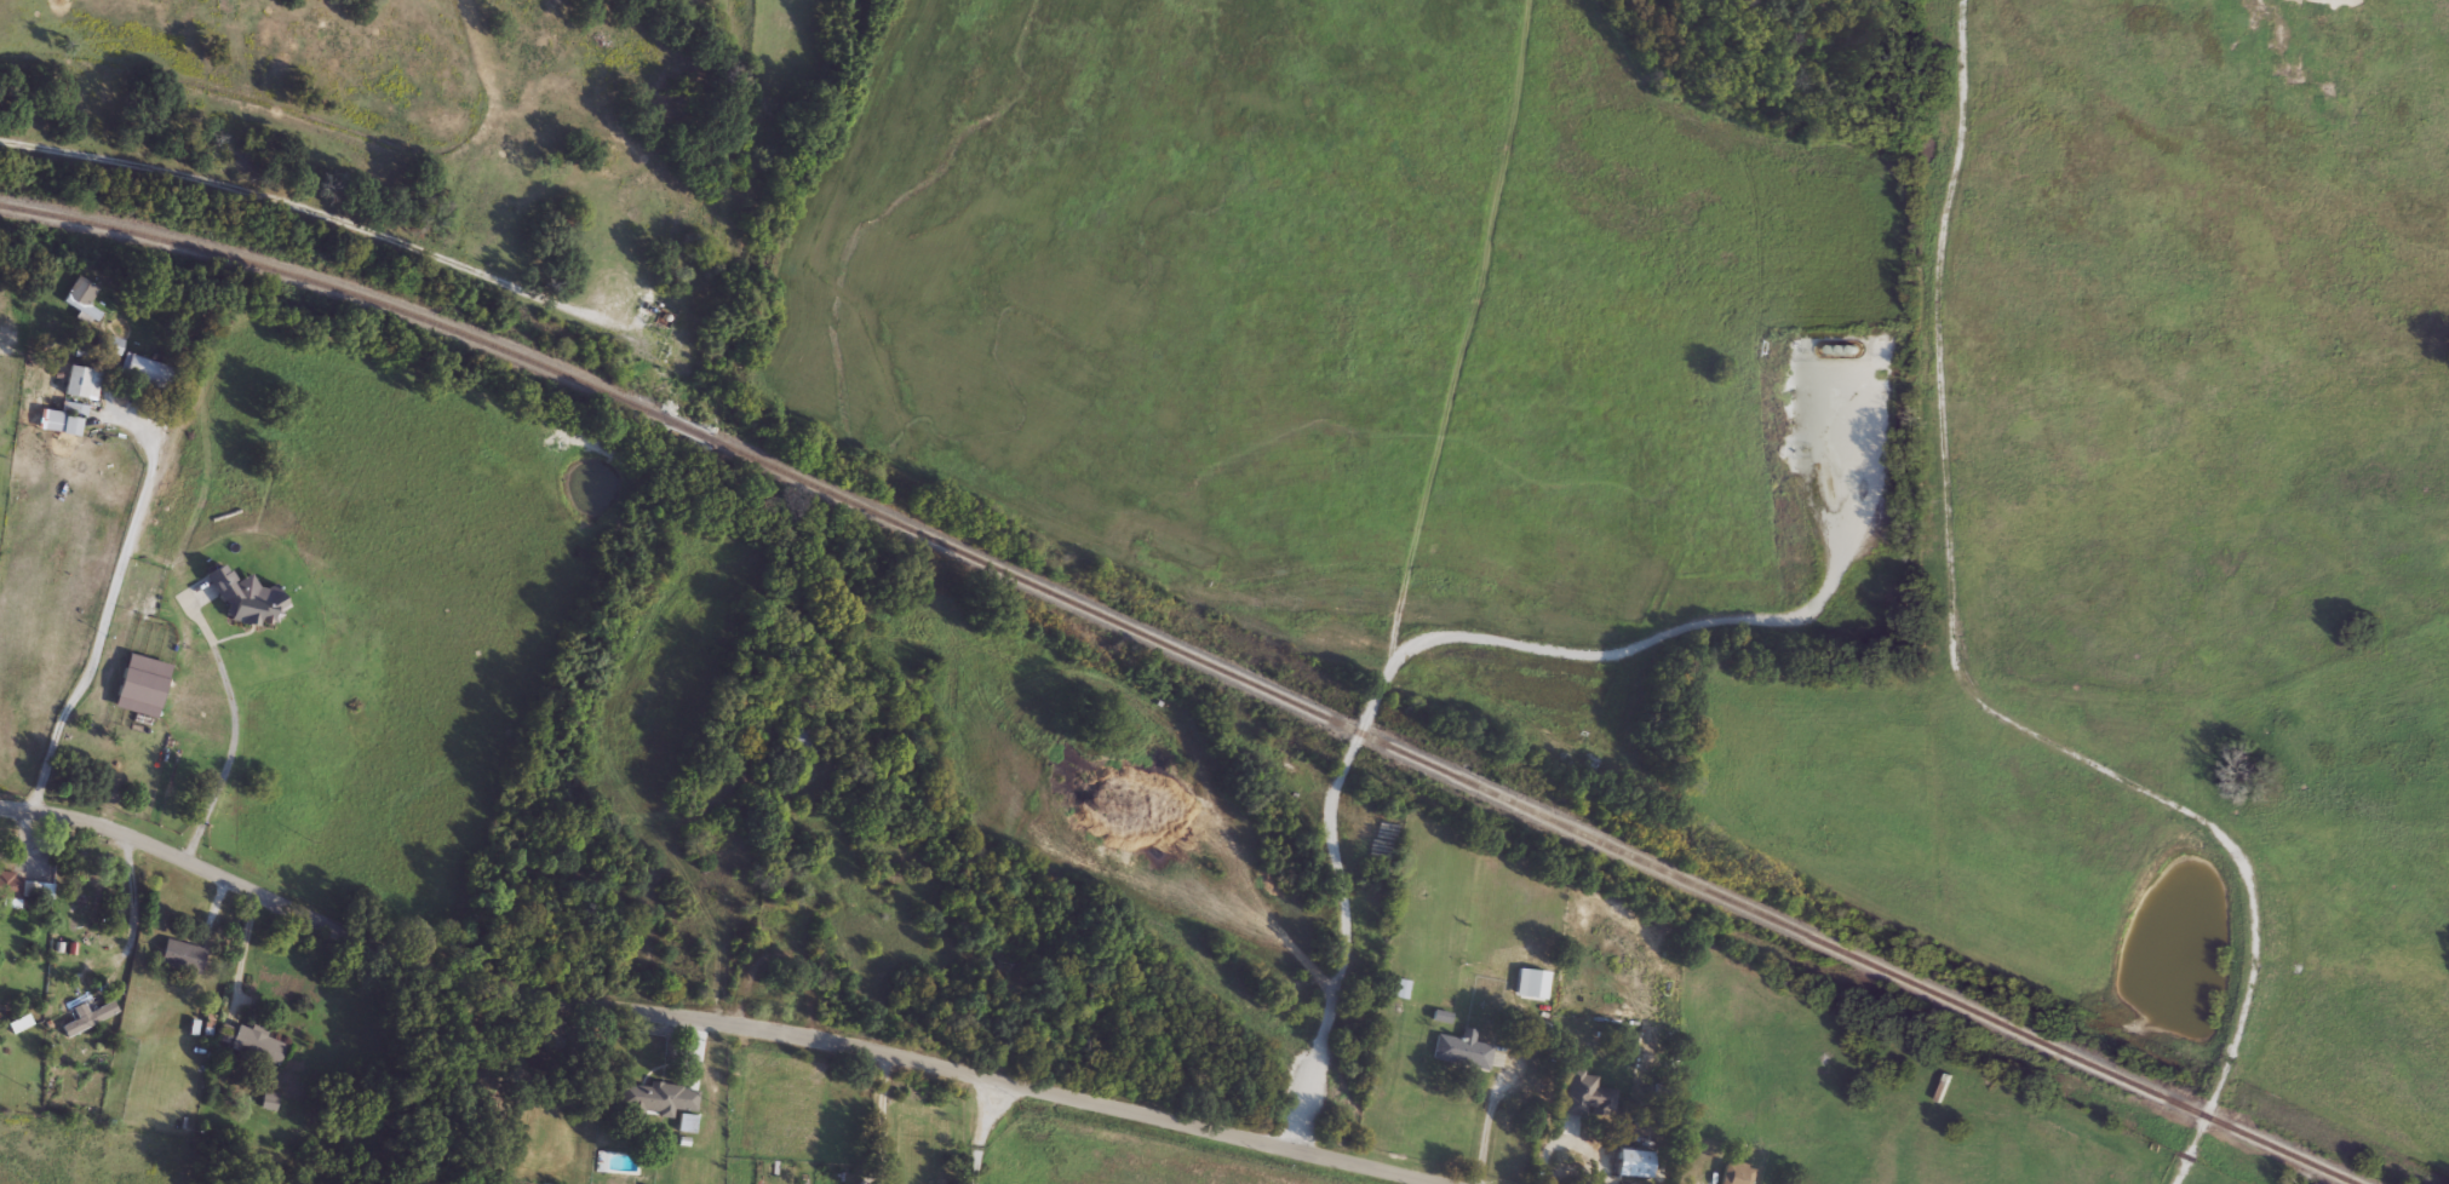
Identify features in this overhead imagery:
building: (80, 299)
building: (144, 372)
building: (81, 384)
building: (63, 420)
road: (1946, 519)
road: (1841, 563)
building: (246, 600)
road: (104, 619)
railway: (1189, 656)
building: (143, 680)
building: (799, 738)
road: (1352, 745)
road: (231, 748)
building: (91, 885)
building: (17, 887)
building: (780, 919)
road: (126, 924)
road: (245, 948)
building: (182, 956)
building: (1400, 989)
building: (91, 1011)
road: (705, 1021)
road: (2254, 1035)
building: (248, 1044)
building: (1462, 1051)
building: (653, 1099)
road: (876, 1103)
road: (1489, 1120)
building: (687, 1123)
road: (980, 1131)
building: (1576, 1154)
building: (1633, 1163)
road: (862, 1167)
road: (874, 1167)
building: (1734, 1173)

